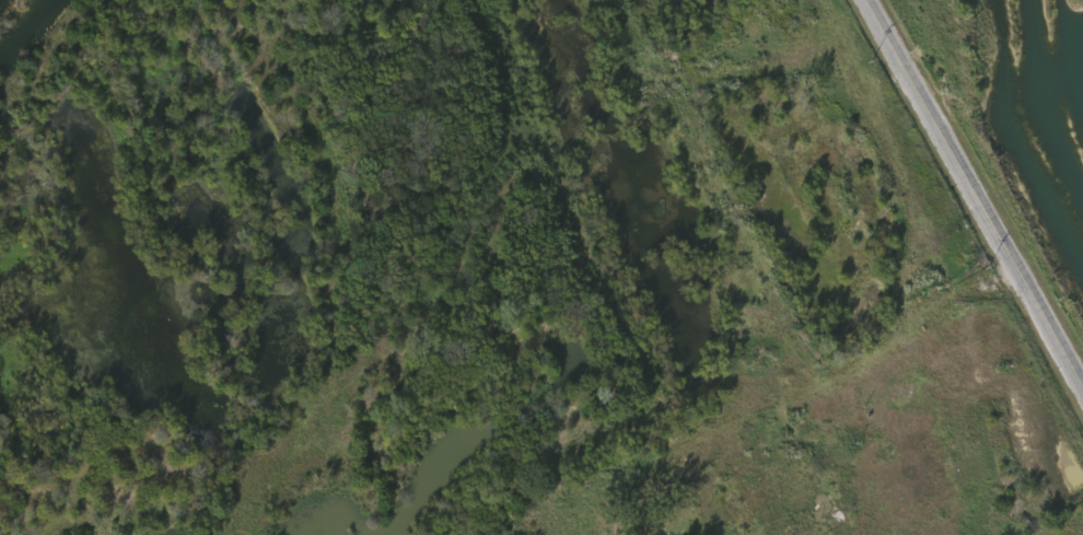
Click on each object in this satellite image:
road: (975, 195)
road: (975, 287)

